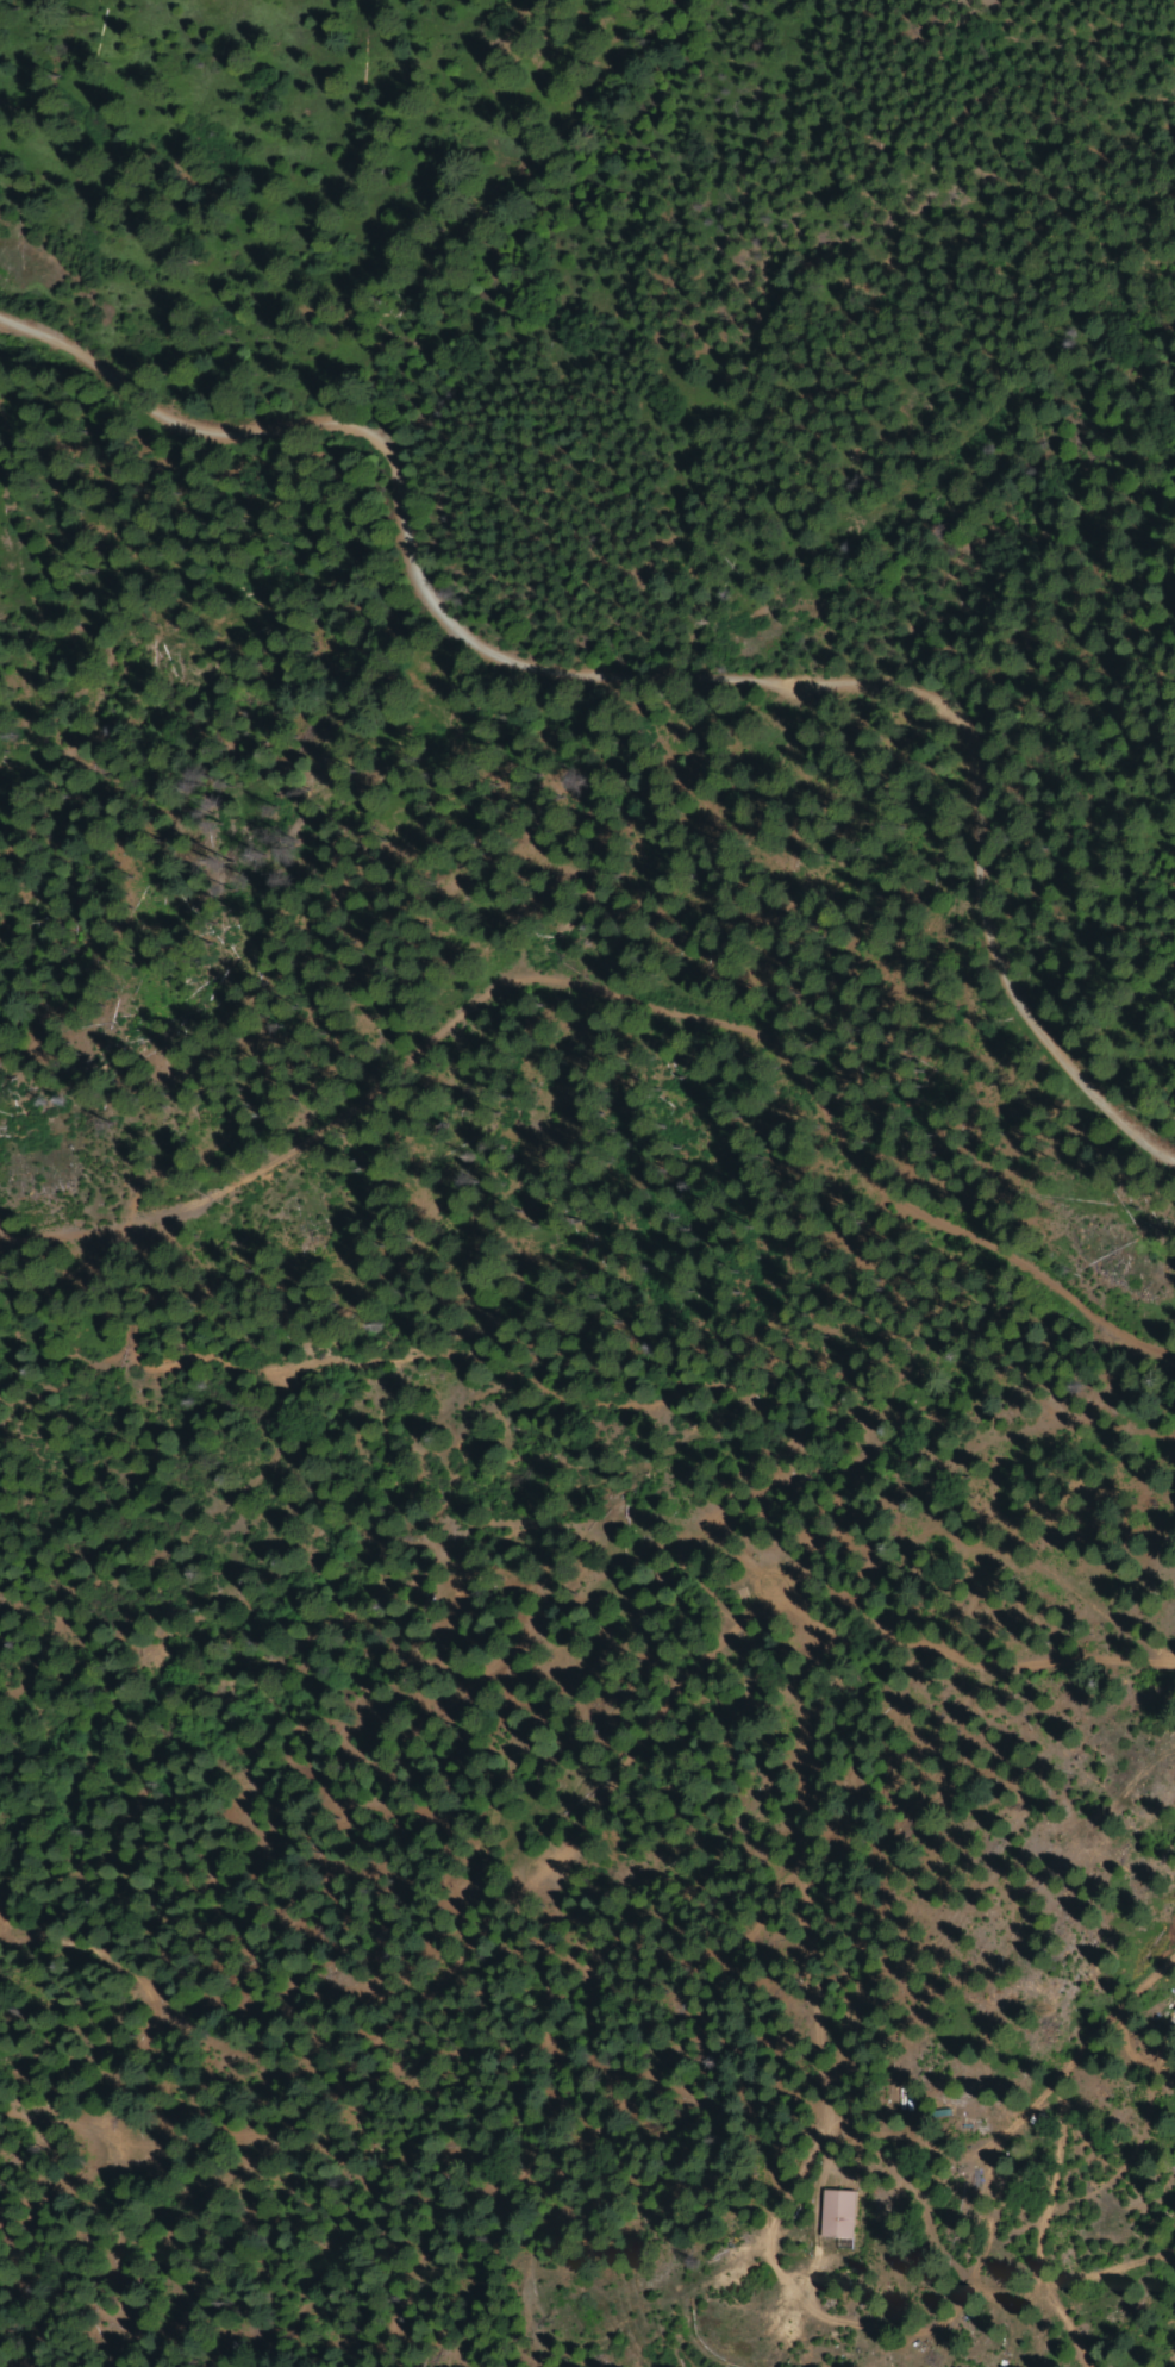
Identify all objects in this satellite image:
road: (635, 618)
building: (836, 2215)

